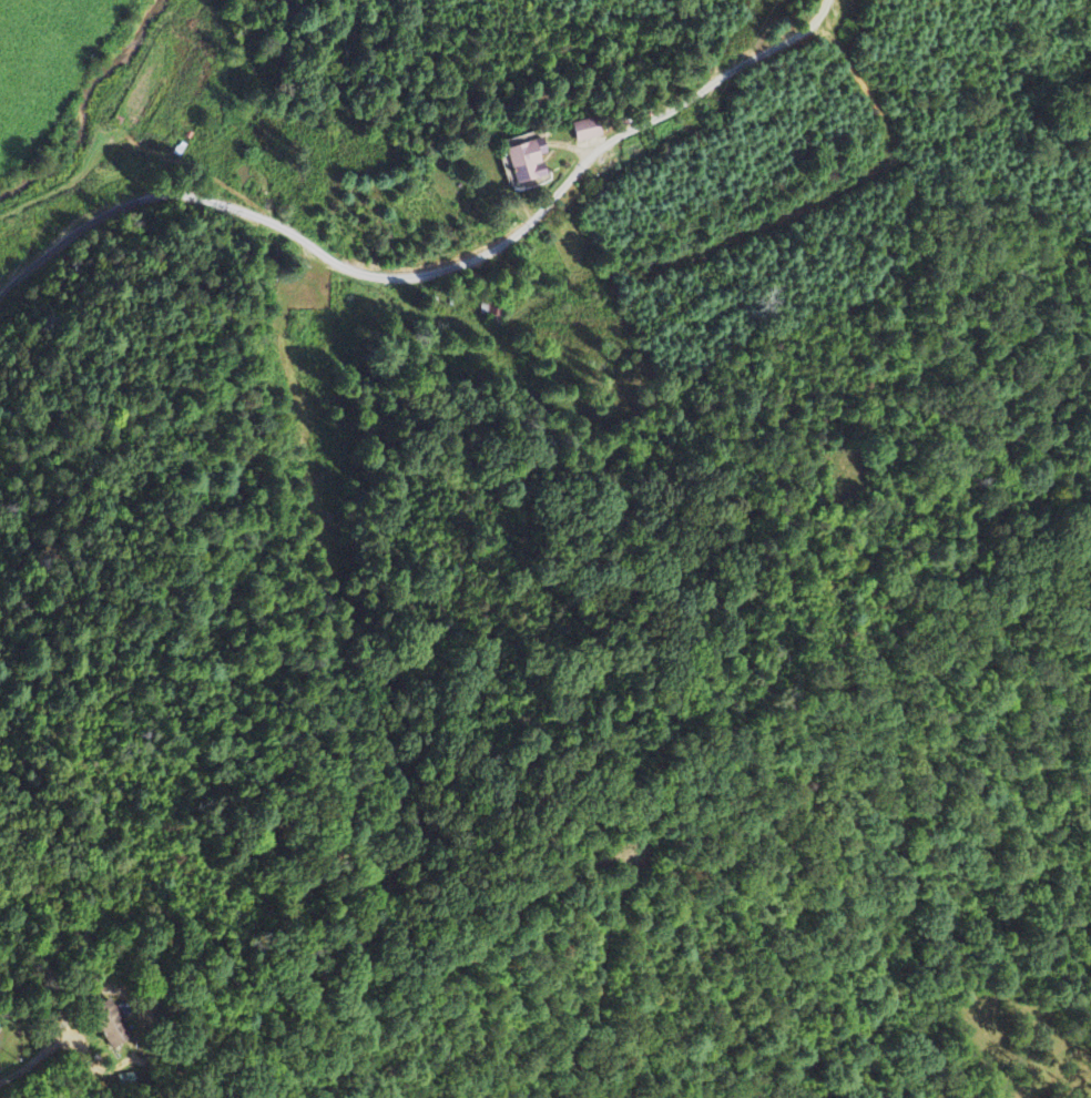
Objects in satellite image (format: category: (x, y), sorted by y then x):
building: (584, 132)
building: (526, 163)
road: (434, 271)
building: (106, 1026)
road: (26, 1061)

